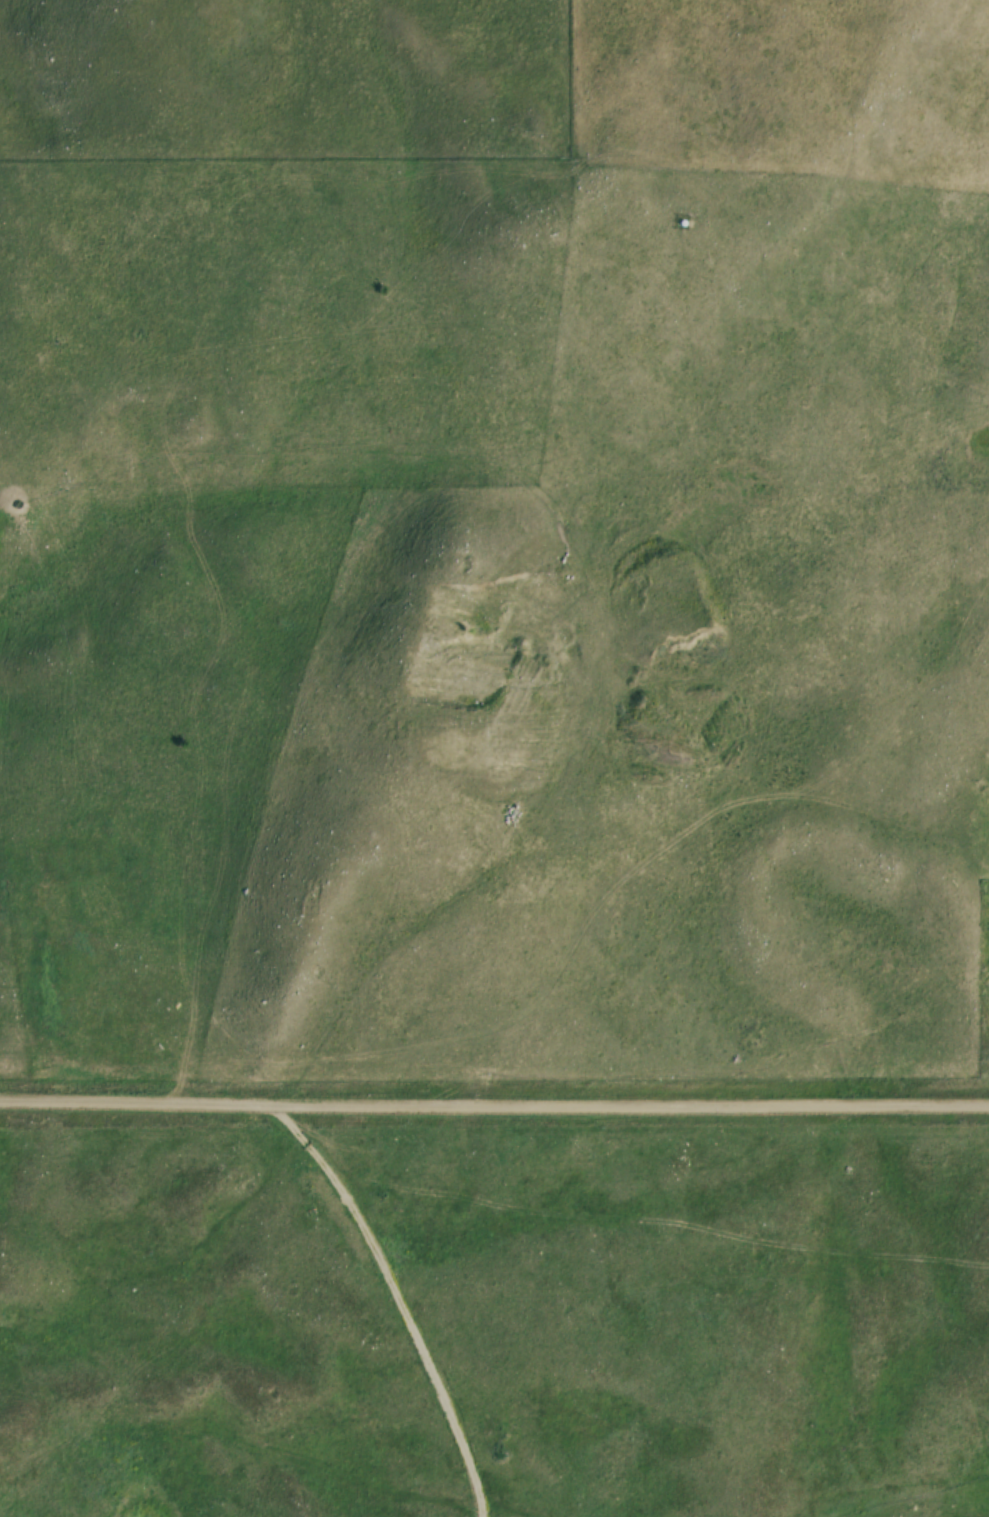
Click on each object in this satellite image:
road: (635, 1108)
road: (343, 1174)

